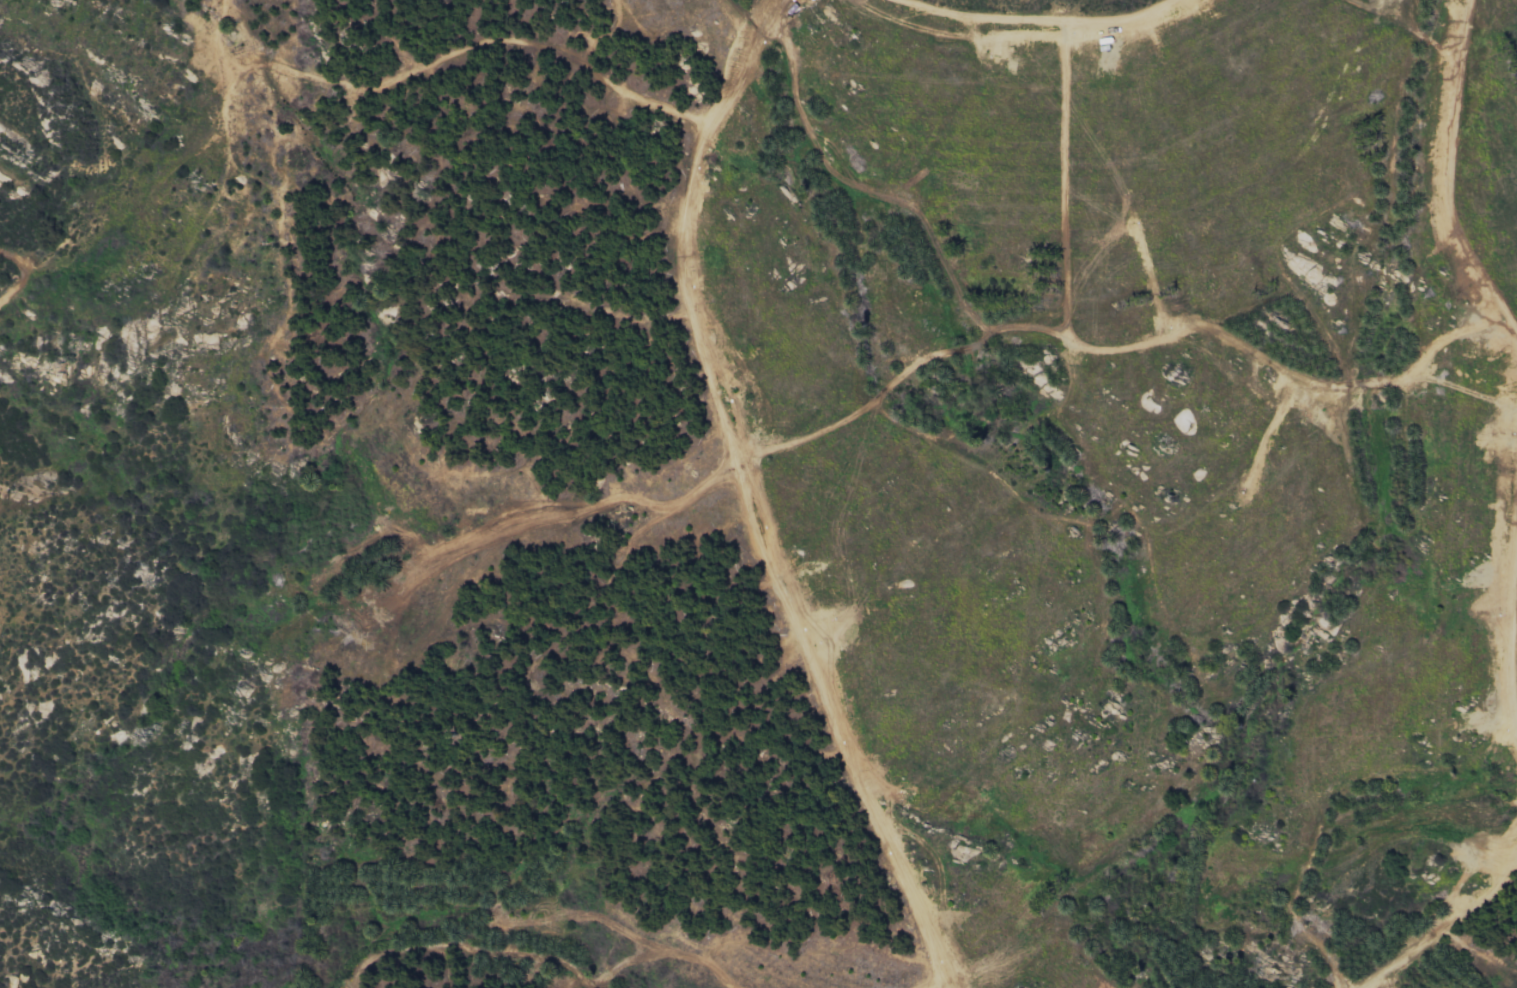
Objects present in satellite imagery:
road: (1037, 19)
road: (1446, 178)
road: (744, 499)
road: (1507, 614)
road: (1444, 927)

